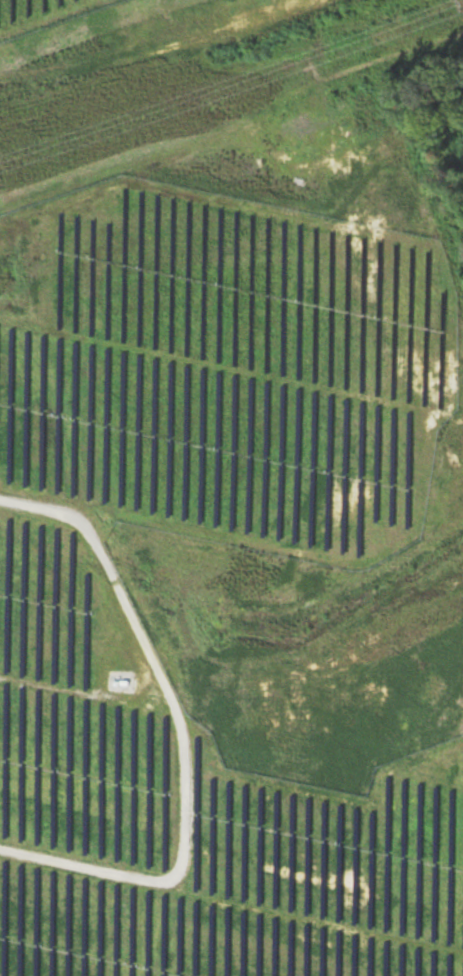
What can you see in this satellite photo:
building: (242, 790)
building: (230, 812)

